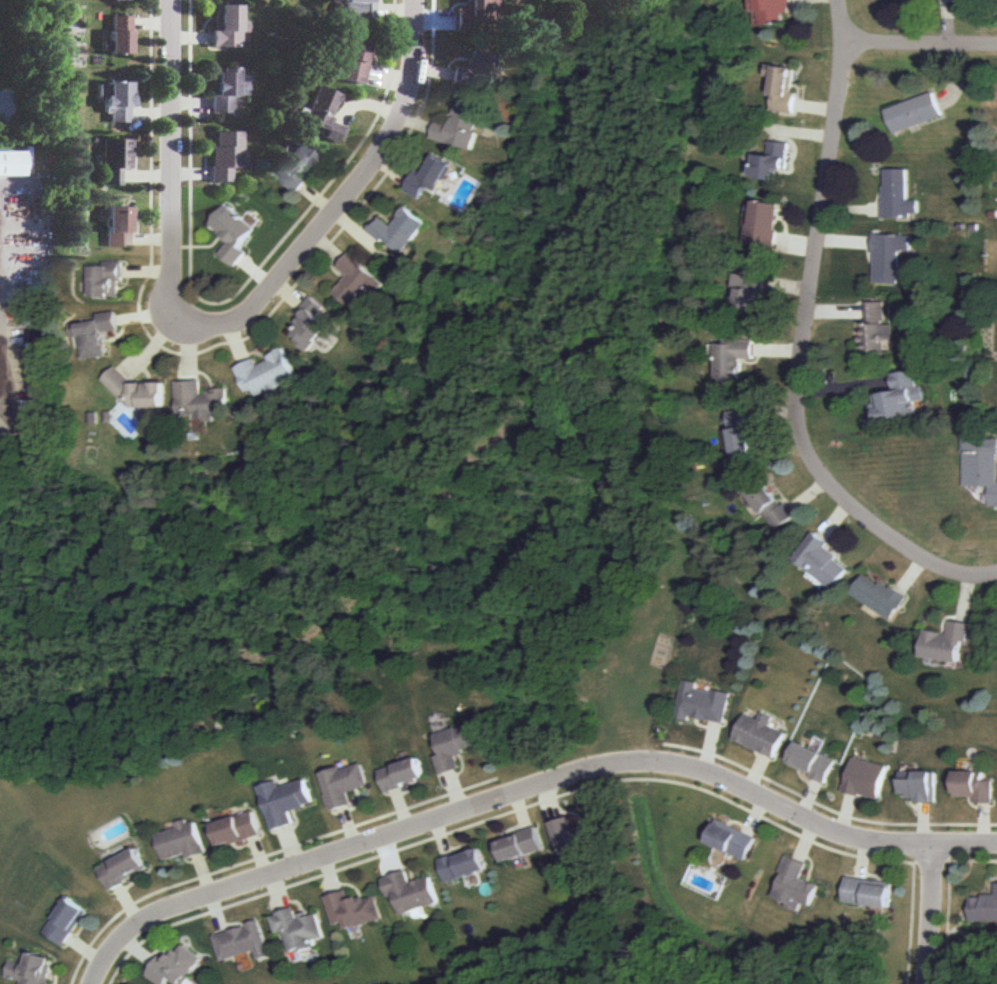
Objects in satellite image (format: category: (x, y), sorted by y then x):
building: (357, 9)
building: (776, 11)
building: (474, 17)
building: (227, 28)
building: (119, 37)
road: (922, 41)
building: (352, 61)
building: (473, 72)
building: (222, 88)
building: (785, 88)
building: (118, 103)
building: (914, 112)
building: (324, 114)
building: (460, 128)
building: (226, 155)
road: (170, 157)
building: (116, 160)
building: (772, 162)
building: (10, 164)
building: (293, 169)
building: (433, 178)
building: (898, 196)
road: (342, 198)
building: (115, 225)
building: (766, 225)
building: (400, 232)
building: (233, 234)
building: (891, 255)
building: (106, 278)
building: (360, 281)
building: (754, 291)
road: (236, 293)
building: (317, 326)
building: (876, 327)
building: (98, 335)
road: (808, 341)
road: (223, 342)
building: (734, 359)
building: (269, 374)
building: (141, 394)
building: (903, 396)
building: (203, 400)
building: (742, 432)
building: (982, 463)
building: (773, 505)
building: (823, 560)
road: (995, 575)
building: (882, 597)
building: (951, 642)
building: (703, 704)
building: (760, 735)
road: (707, 745)
building: (456, 746)
building: (814, 761)
road: (757, 772)
road: (512, 773)
building: (403, 775)
building: (867, 777)
building: (920, 784)
building: (975, 785)
building: (343, 786)
road: (527, 791)
road: (457, 792)
road: (558, 796)
road: (809, 797)
building: (285, 802)
road: (550, 803)
road: (401, 811)
road: (520, 812)
road: (848, 813)
road: (757, 815)
road: (926, 820)
road: (986, 822)
road: (349, 828)
building: (237, 830)
building: (575, 837)
building: (734, 839)
road: (806, 839)
road: (441, 841)
building: (181, 842)
building: (523, 845)
road: (289, 848)
road: (864, 858)
road: (257, 859)
road: (386, 859)
road: (935, 861)
building: (465, 867)
building: (123, 870)
road: (201, 876)
road: (328, 877)
building: (794, 884)
building: (869, 891)
building: (411, 893)
road: (274, 895)
road: (952, 902)
road: (127, 905)
building: (985, 907)
building: (353, 910)
road: (932, 912)
road: (215, 914)
building: (67, 922)
building: (300, 930)
building: (242, 942)
road: (86, 950)
road: (137, 951)
building: (174, 967)
building: (32, 971)

